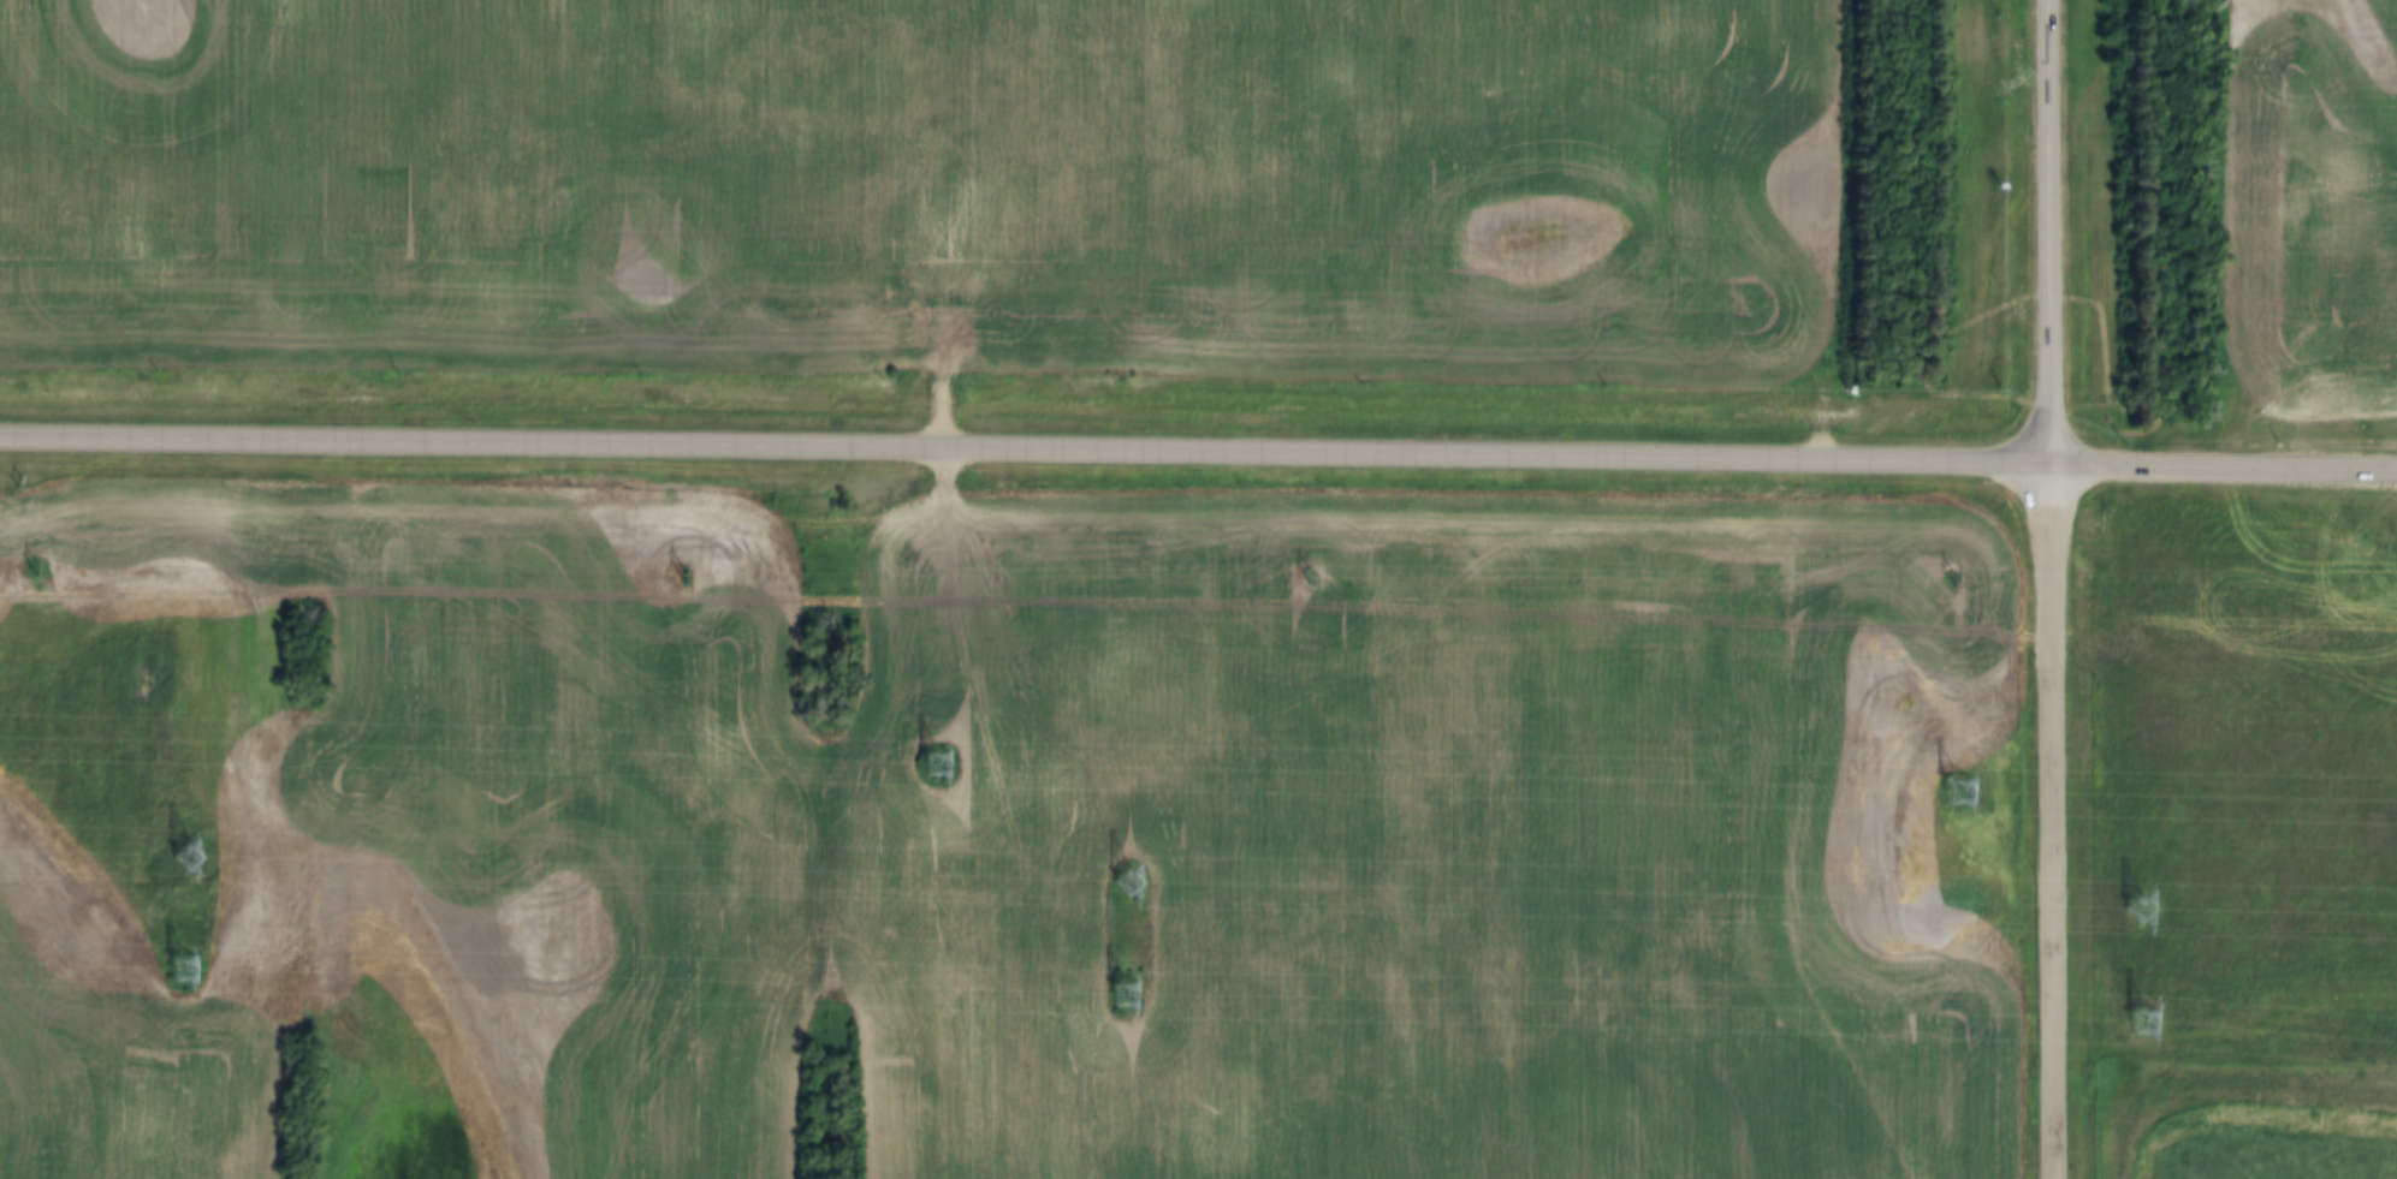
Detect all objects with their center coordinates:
road: (2051, 232)
road: (1026, 449)
road: (2225, 466)
power tower: (38, 566)
power tower: (682, 577)
power tower: (1952, 577)
power tower: (1304, 582)
power tower: (948, 767)
power tower: (1965, 794)
road: (2053, 821)
power tower: (190, 859)
power tower: (1133, 883)
power tower: (2138, 910)
power tower: (190, 965)
power tower: (1133, 992)
power tower: (2155, 1016)

